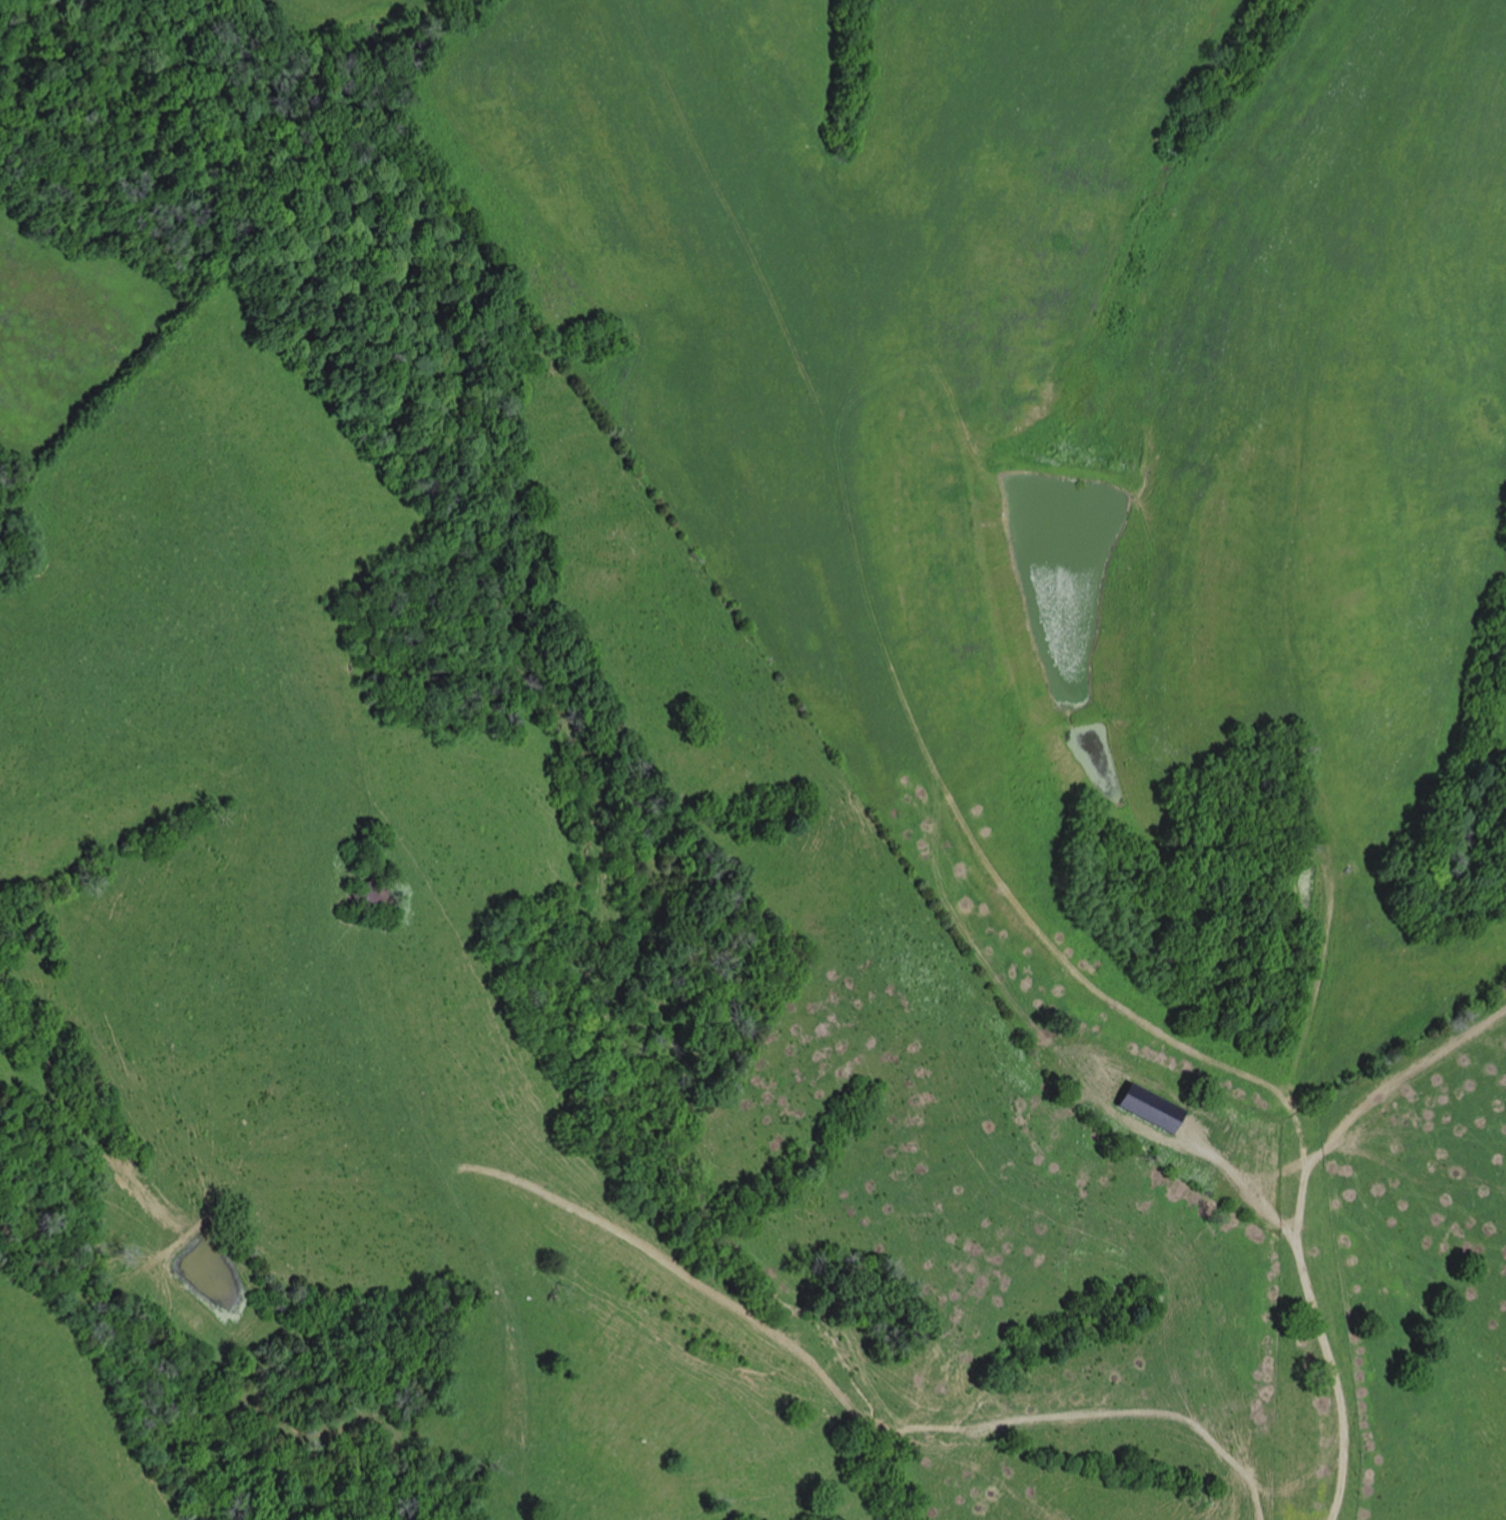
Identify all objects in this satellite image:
road: (1300, 1503)

